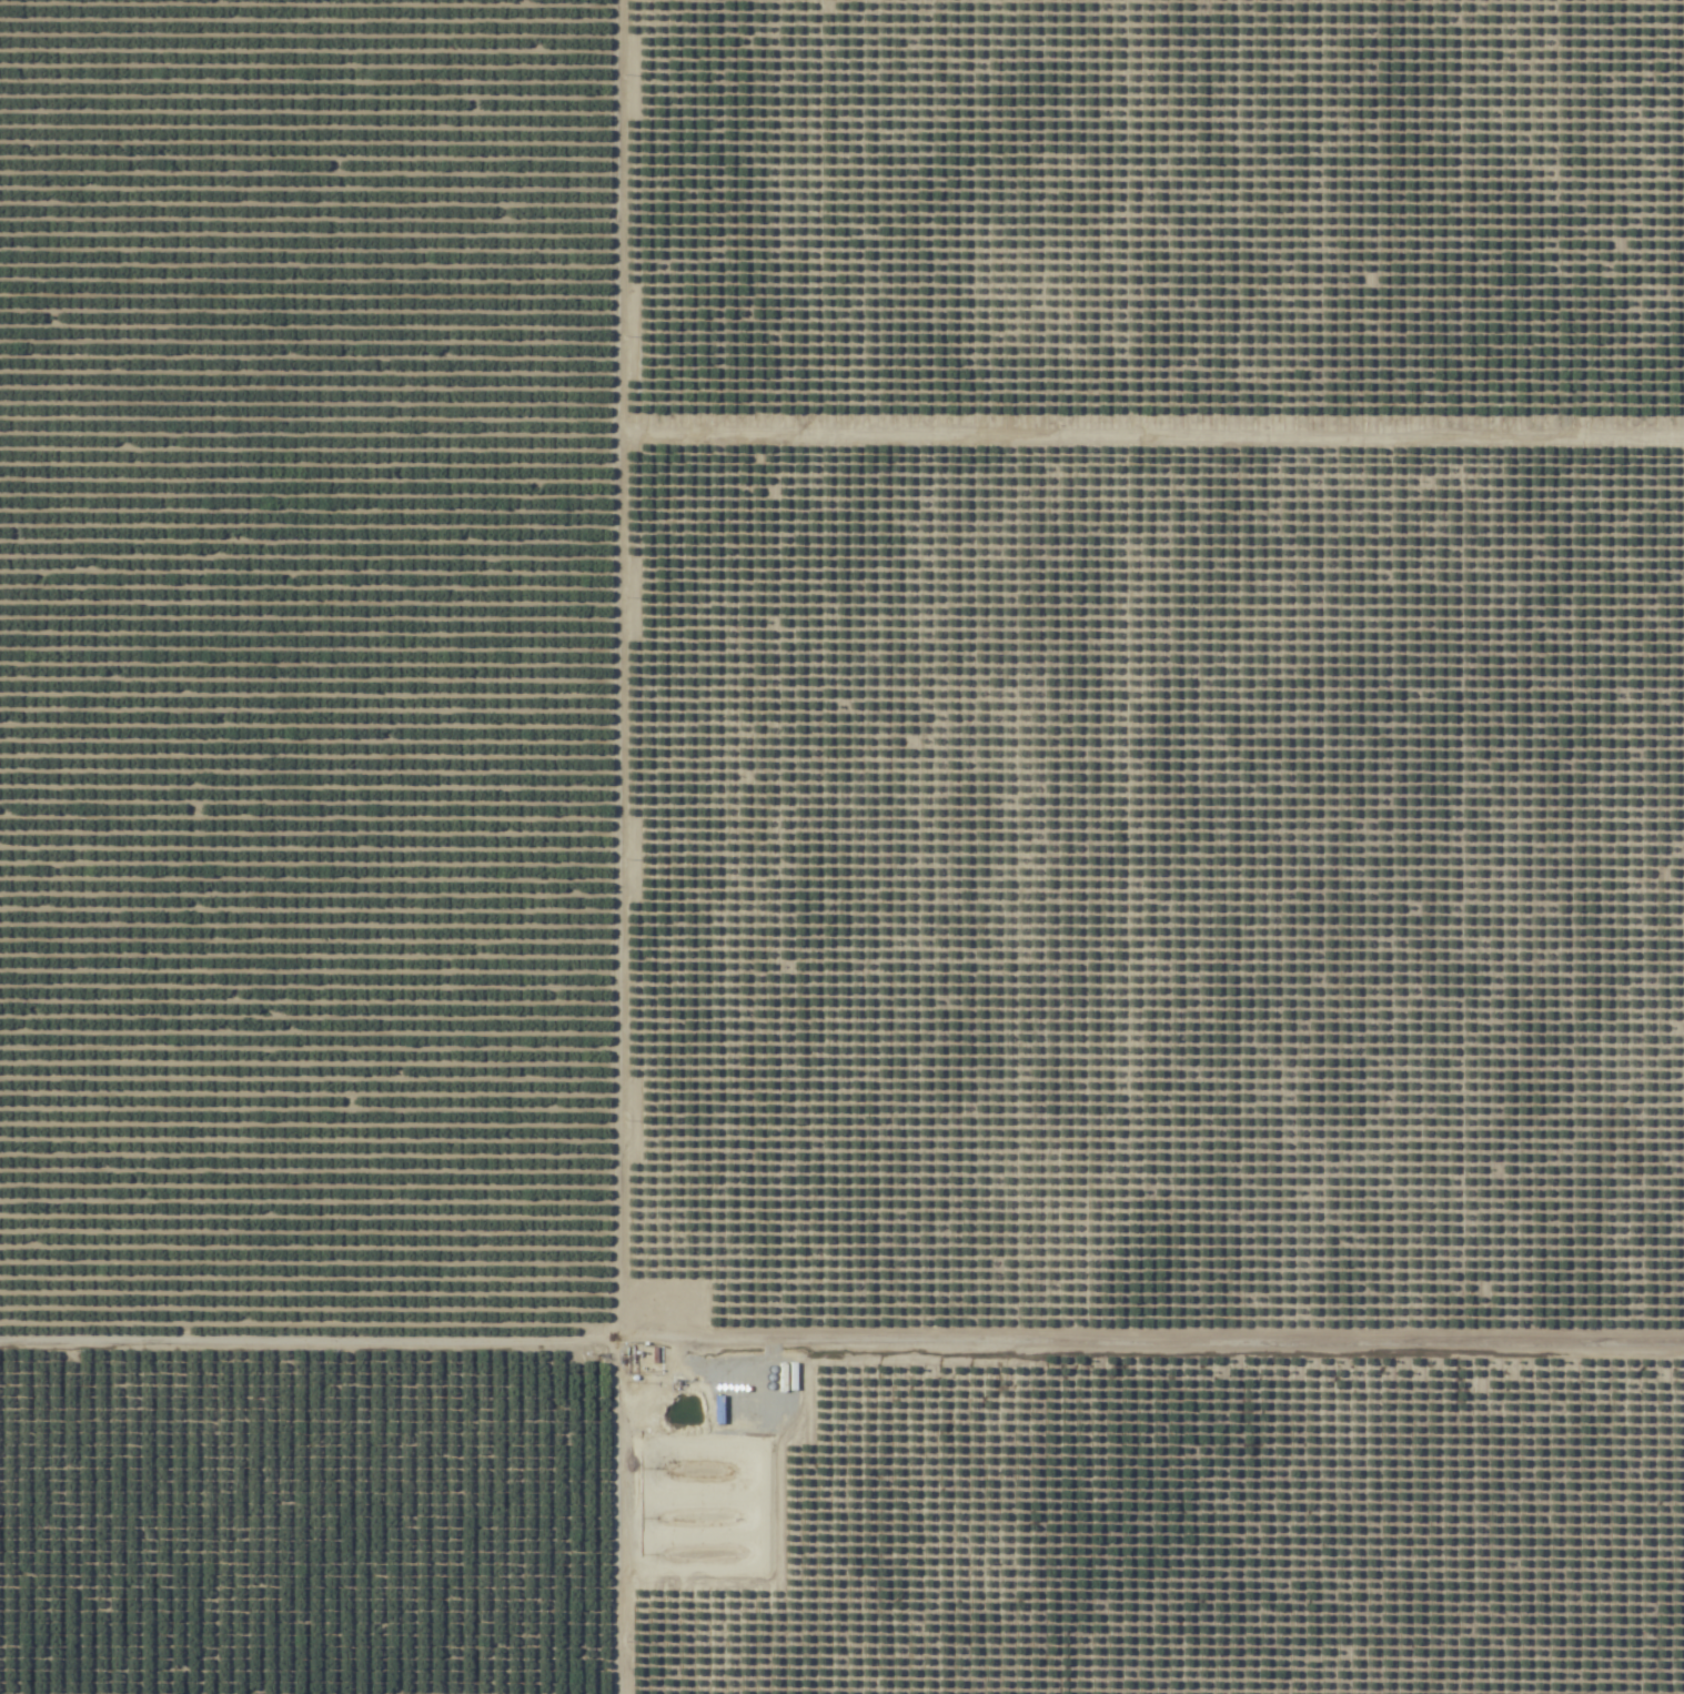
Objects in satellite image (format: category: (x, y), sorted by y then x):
crop: (841, 847)

